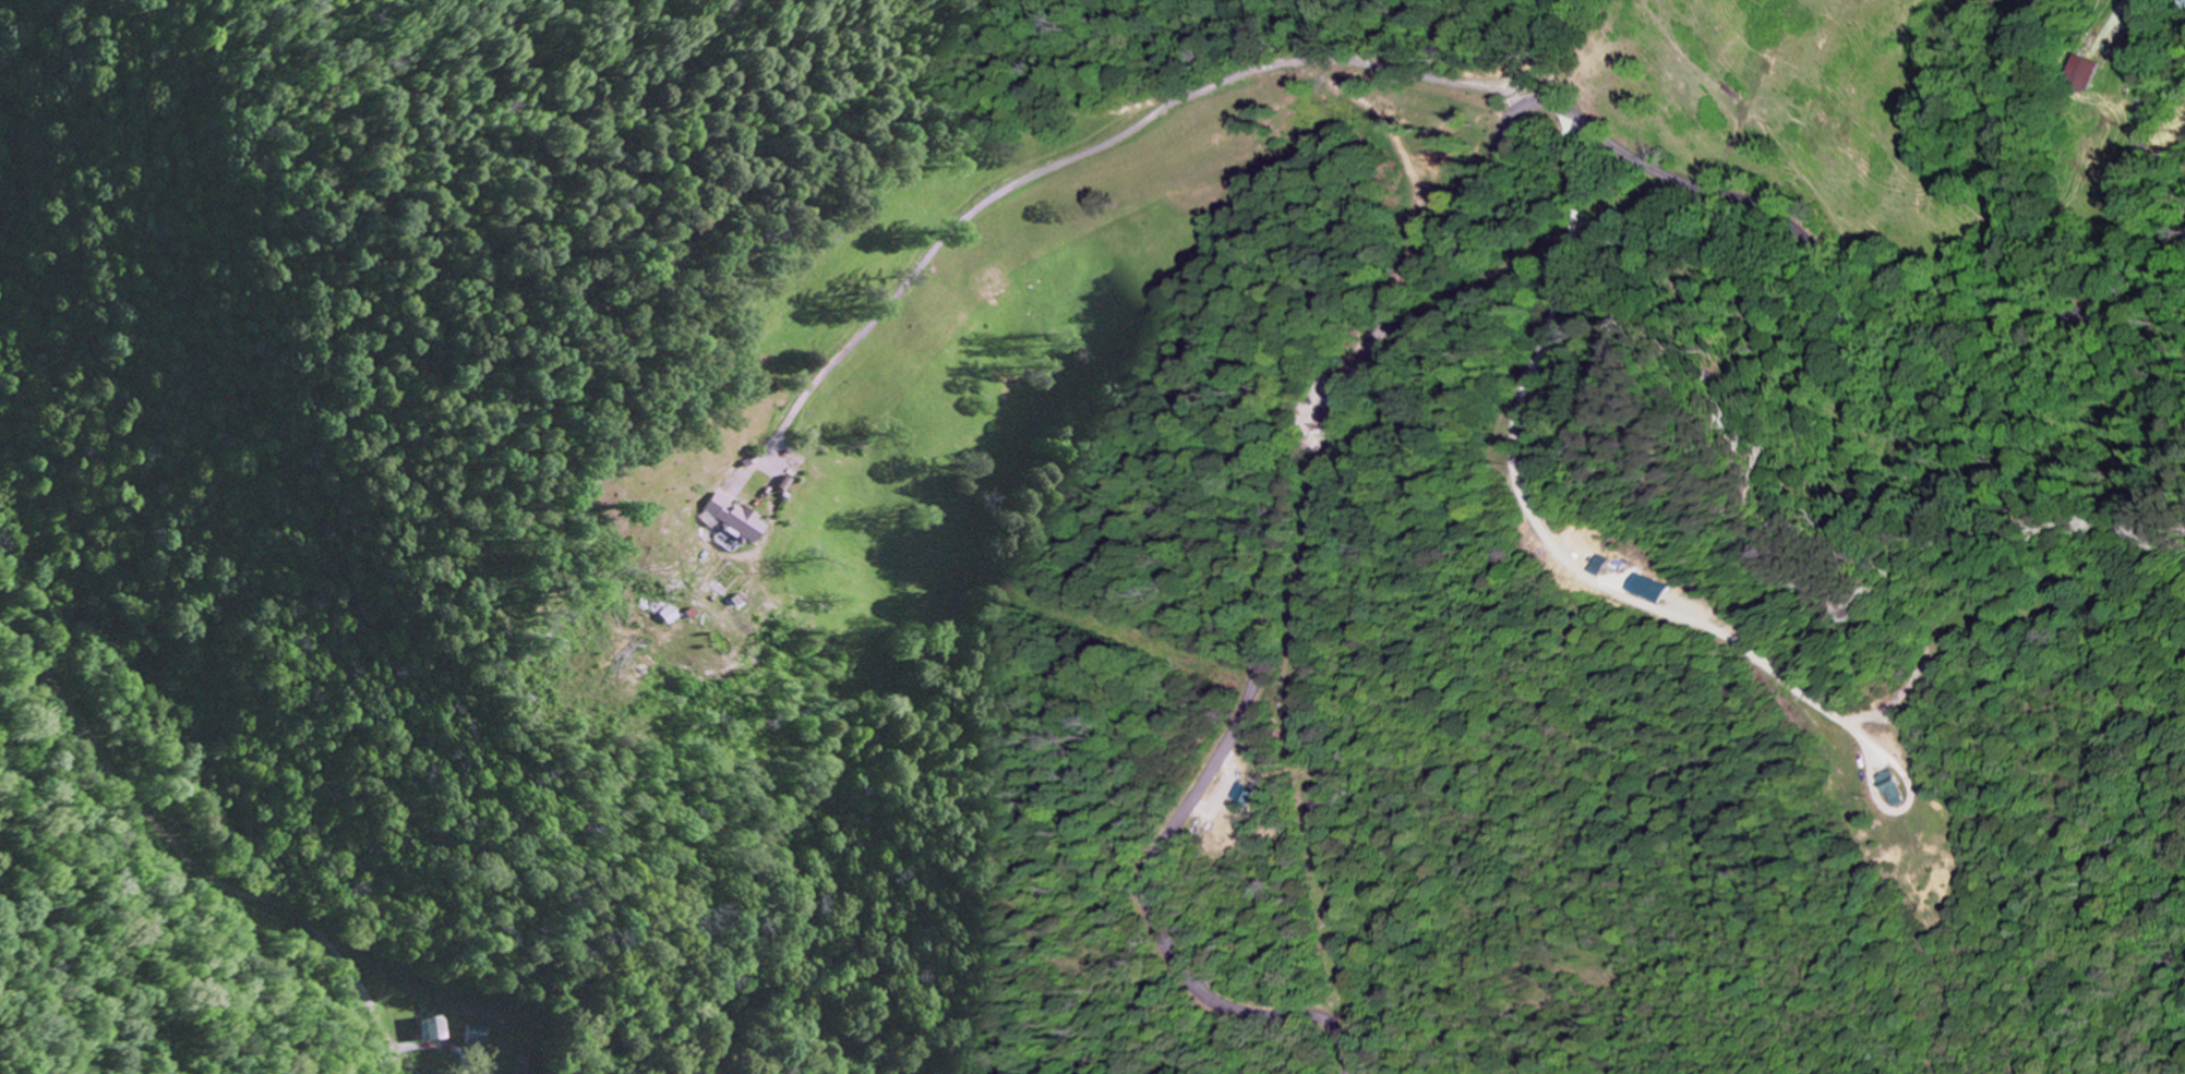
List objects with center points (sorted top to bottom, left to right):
road: (1079, 155)
road: (1462, 204)
road: (1529, 507)
building: (737, 517)
building: (731, 540)
building: (1609, 565)
building: (1658, 588)
building: (673, 612)
building: (1897, 787)
building: (1244, 793)
road: (184, 878)
building: (432, 1027)
building: (477, 1034)

